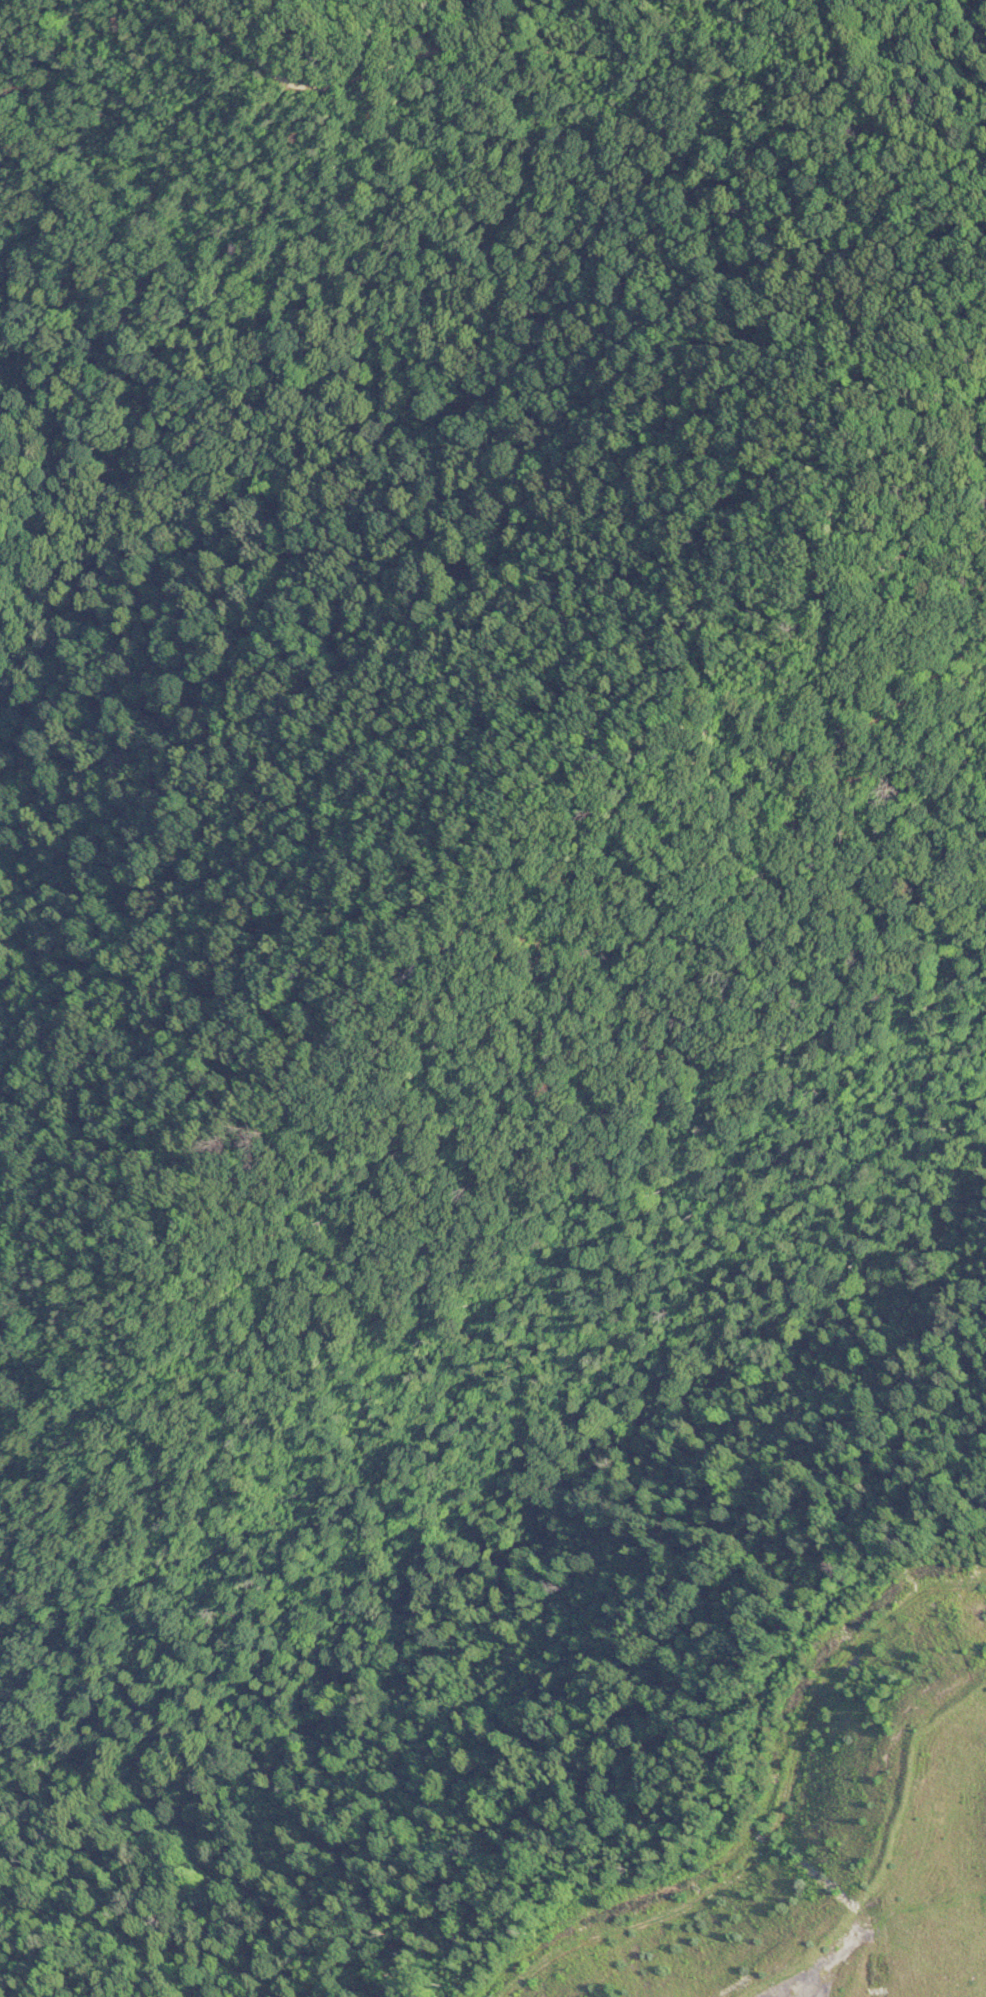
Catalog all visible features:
road: (522, 61)
road: (873, 120)
quarry: (832, 1830)

